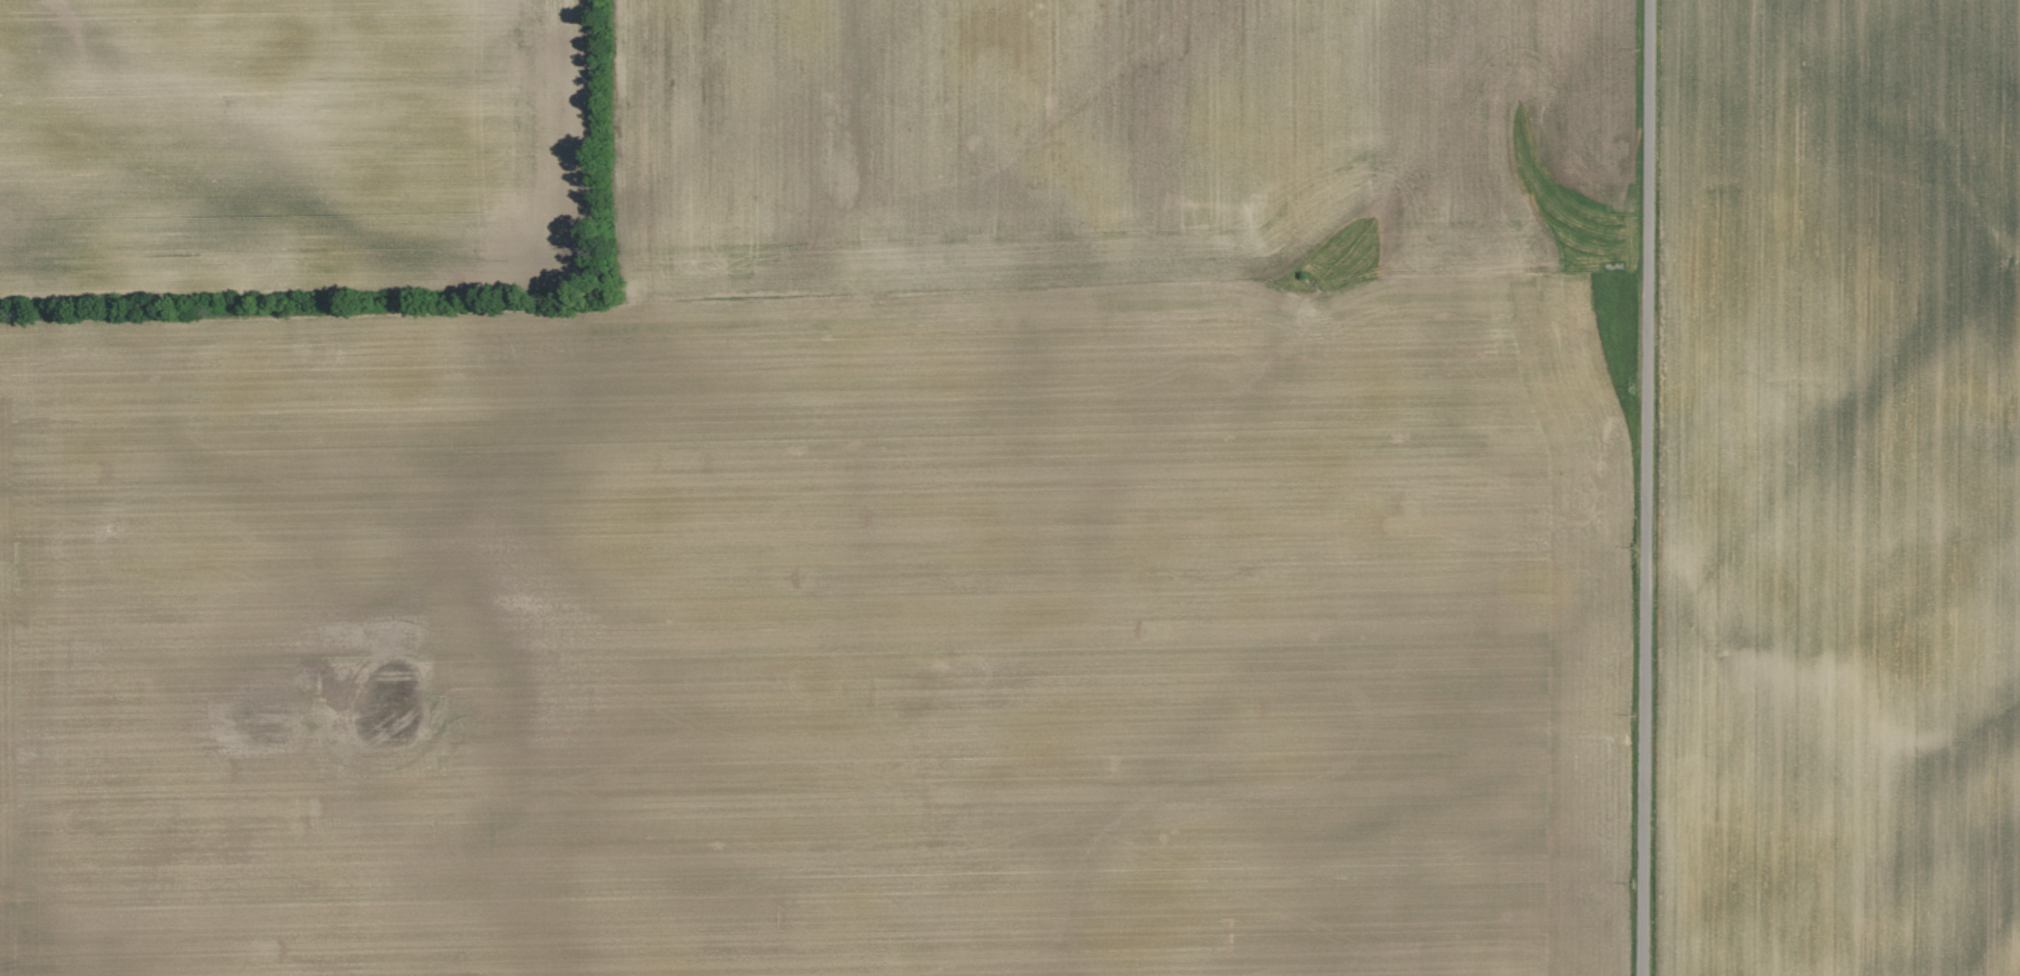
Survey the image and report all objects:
road: (1647, 488)

